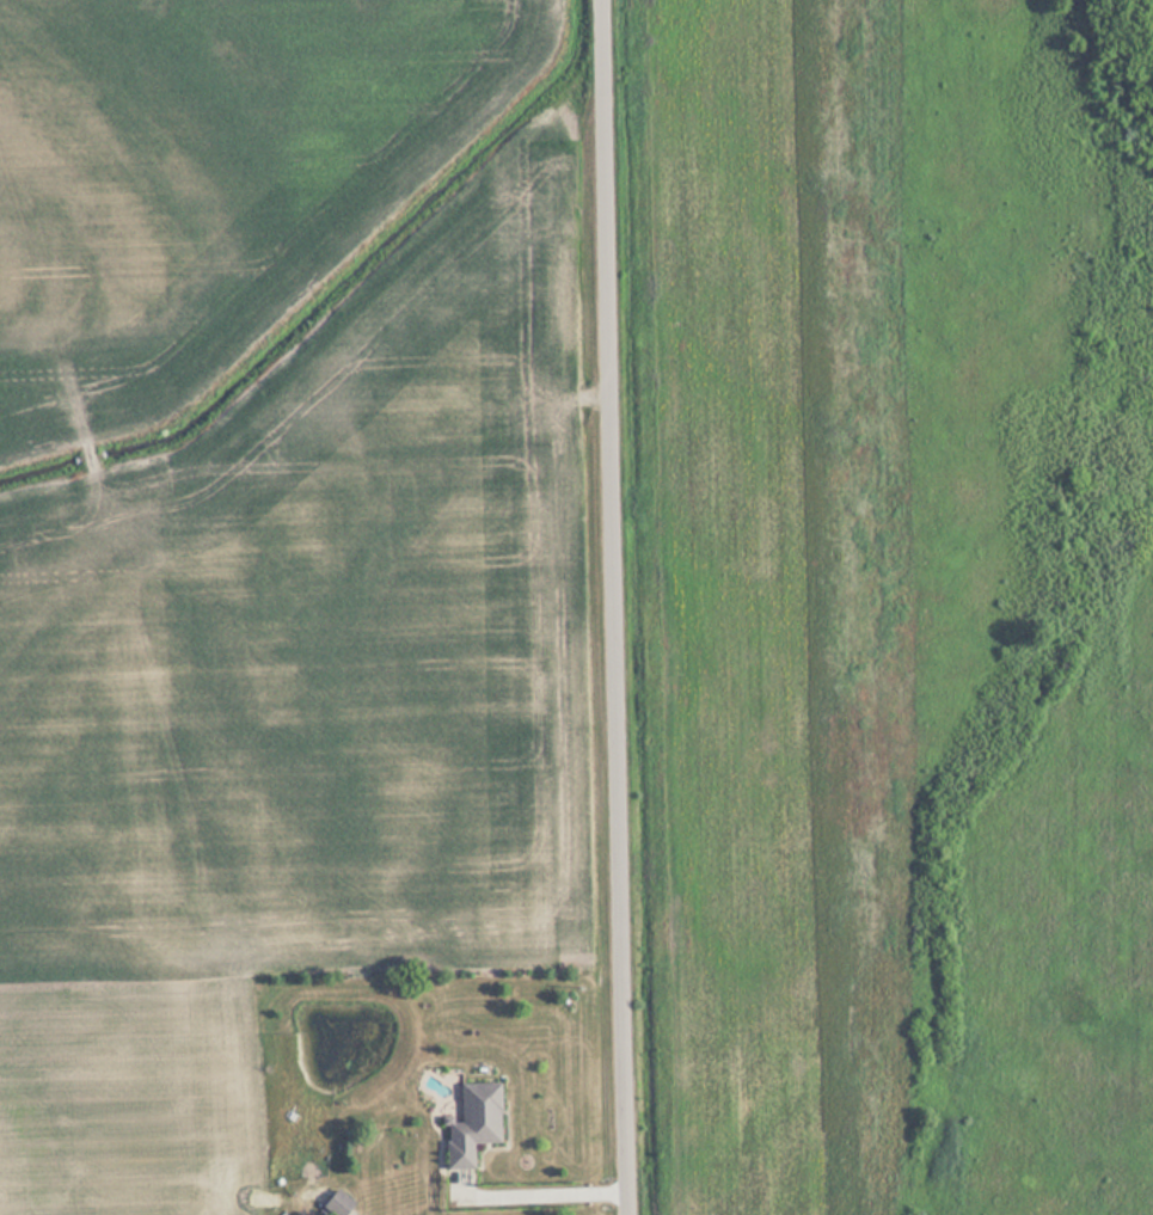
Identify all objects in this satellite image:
road: (618, 607)
building: (471, 1123)
road: (542, 1192)
building: (335, 1203)

